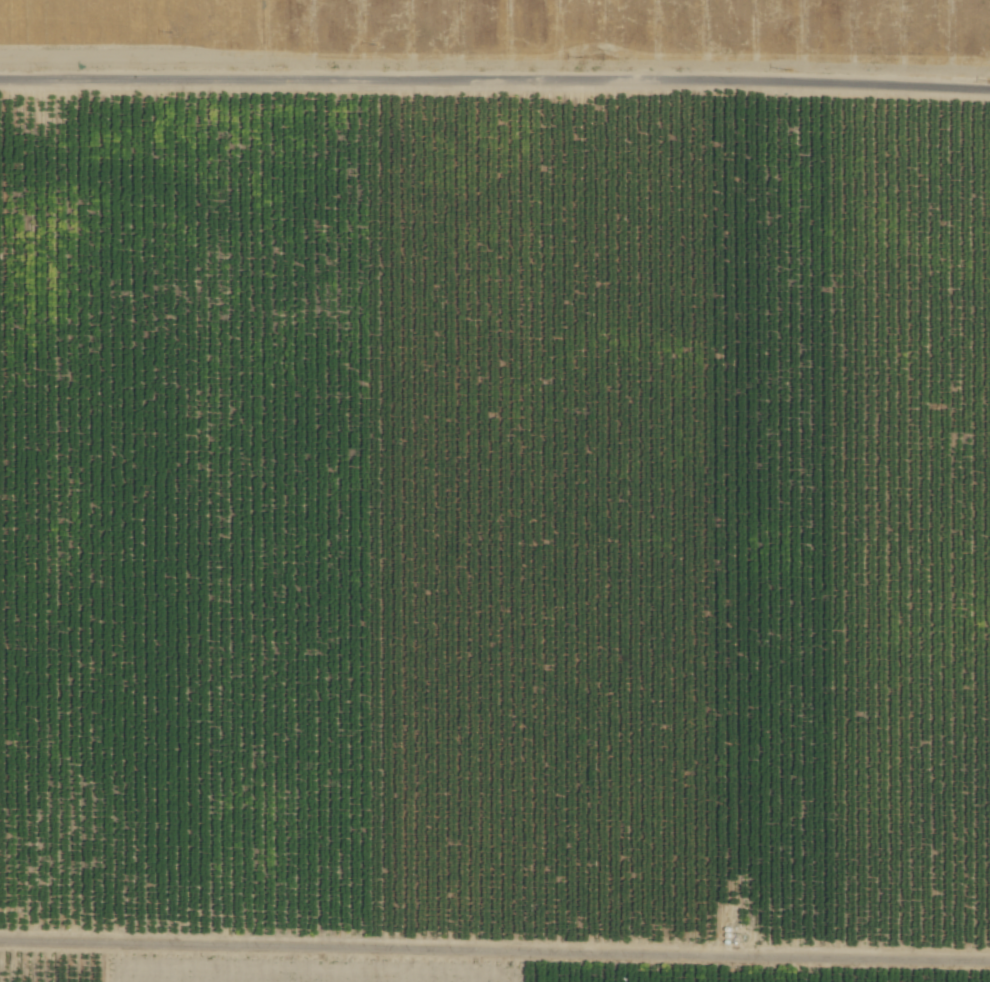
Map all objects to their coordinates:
crop: (516, 26)
road: (495, 78)

